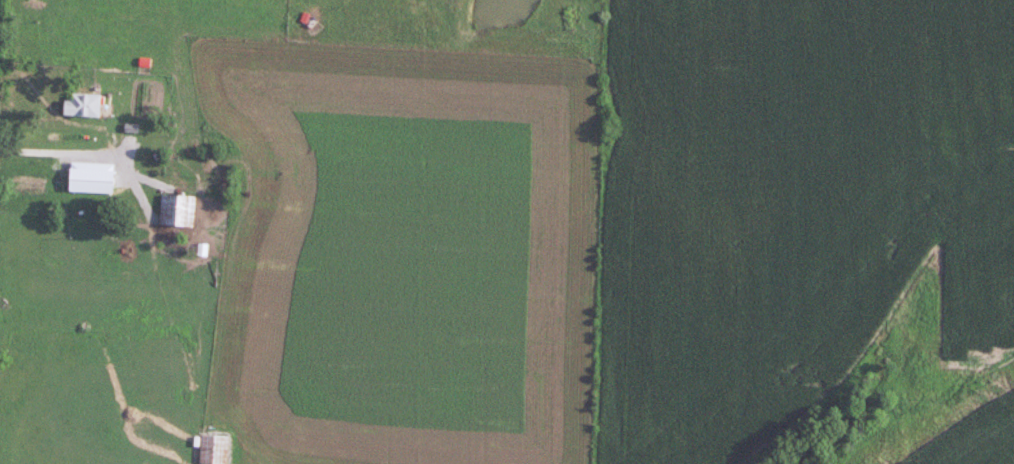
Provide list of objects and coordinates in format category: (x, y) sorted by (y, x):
building: (81, 105)
road: (64, 155)
building: (284, 171)
building: (177, 212)
building: (214, 449)

